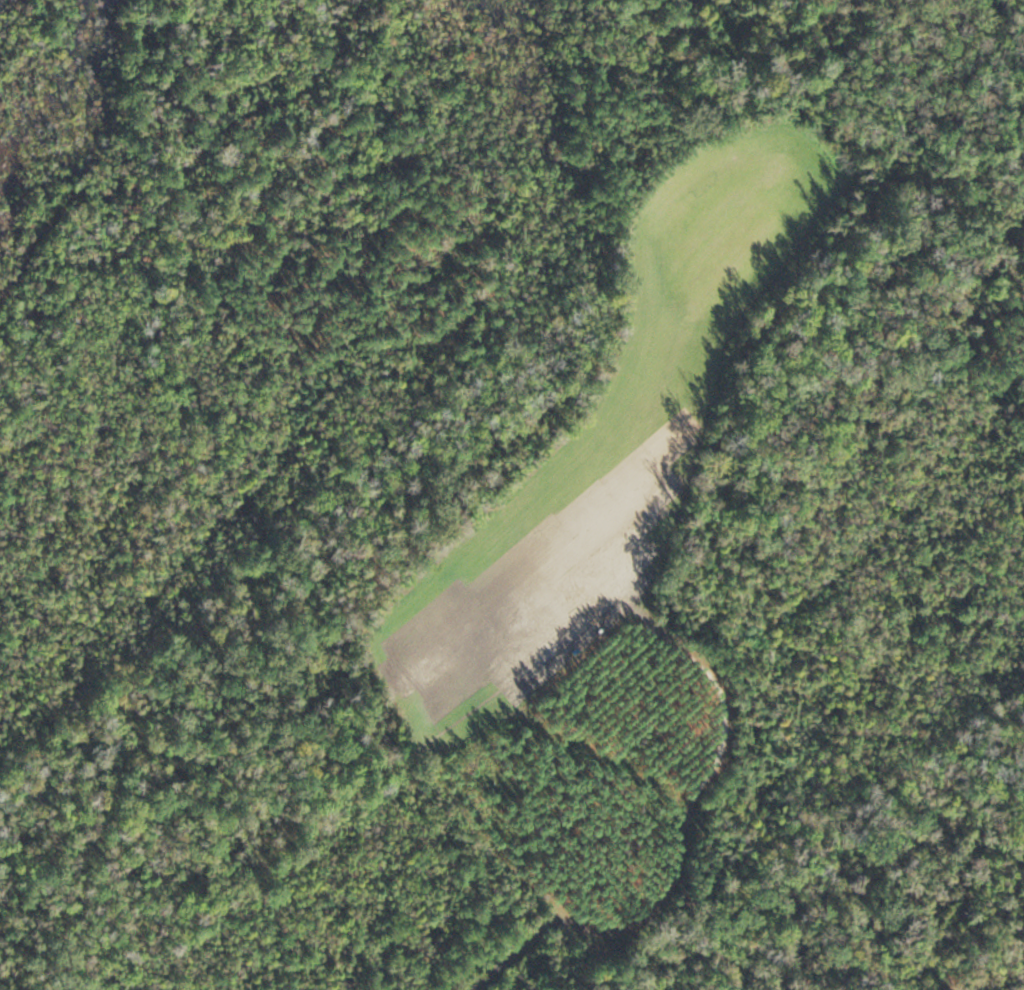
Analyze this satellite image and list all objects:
river: (1003, 11)

